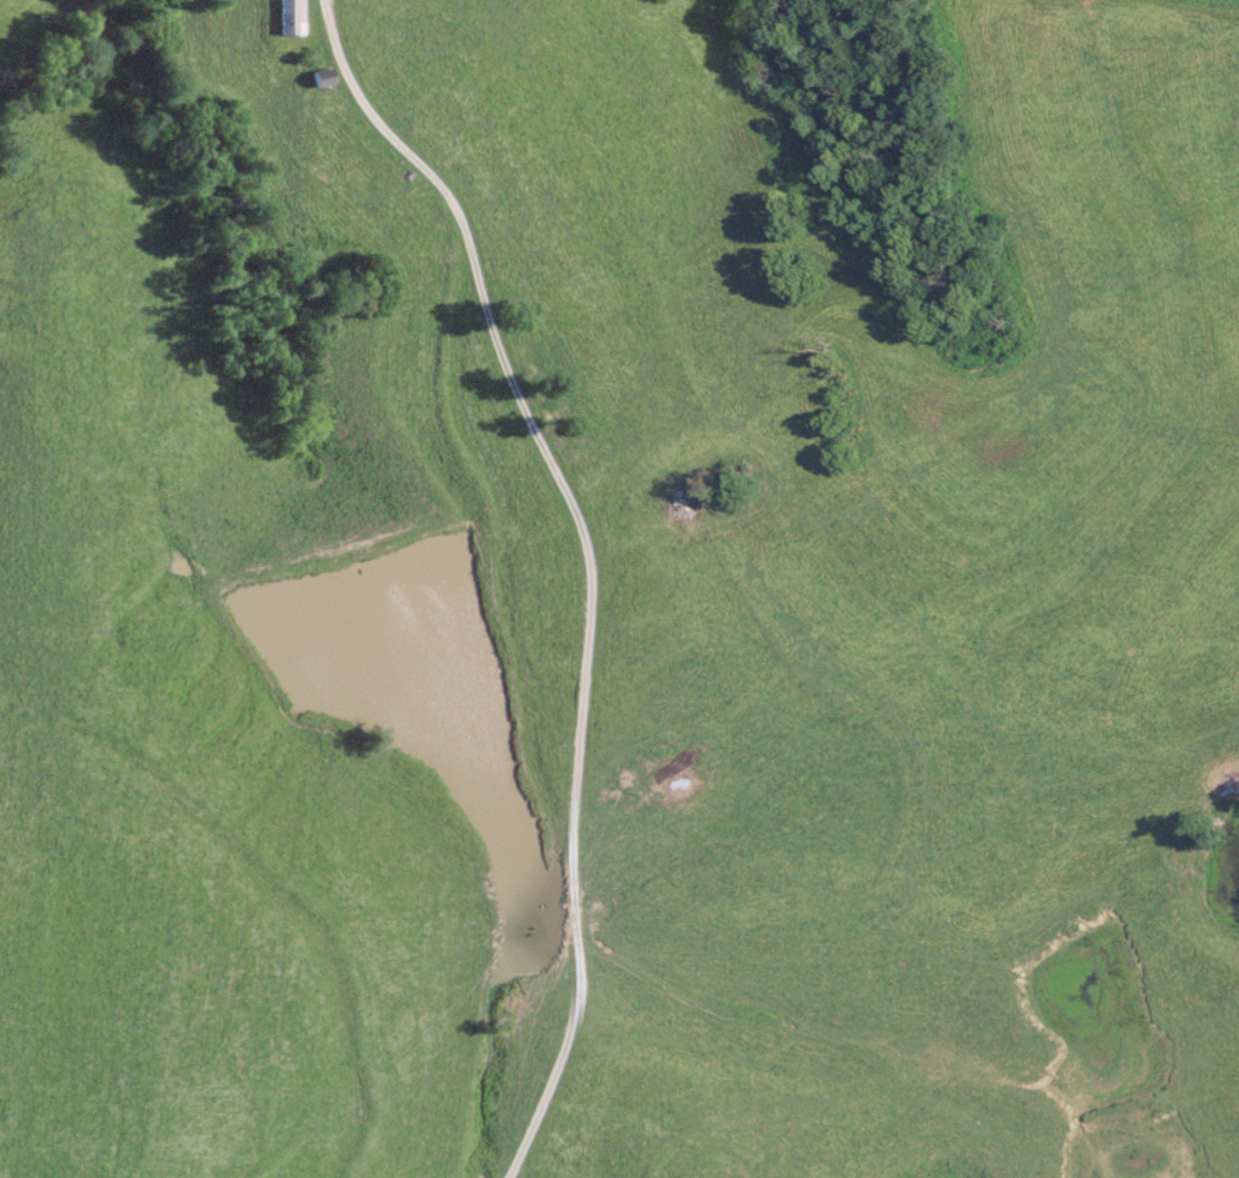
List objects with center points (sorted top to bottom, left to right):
building: (289, 16)

